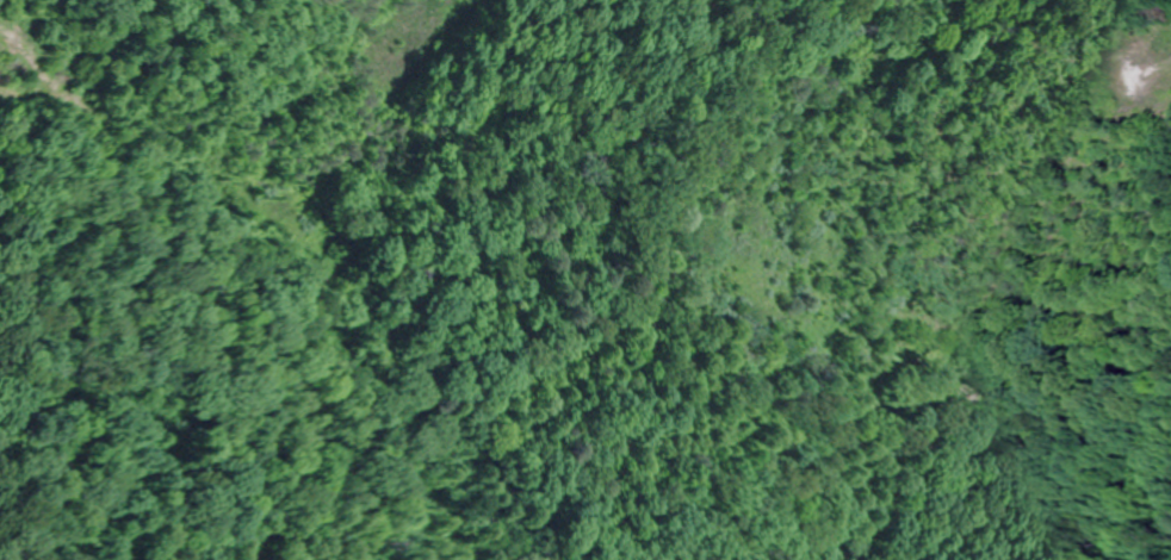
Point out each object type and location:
road: (563, 254)

